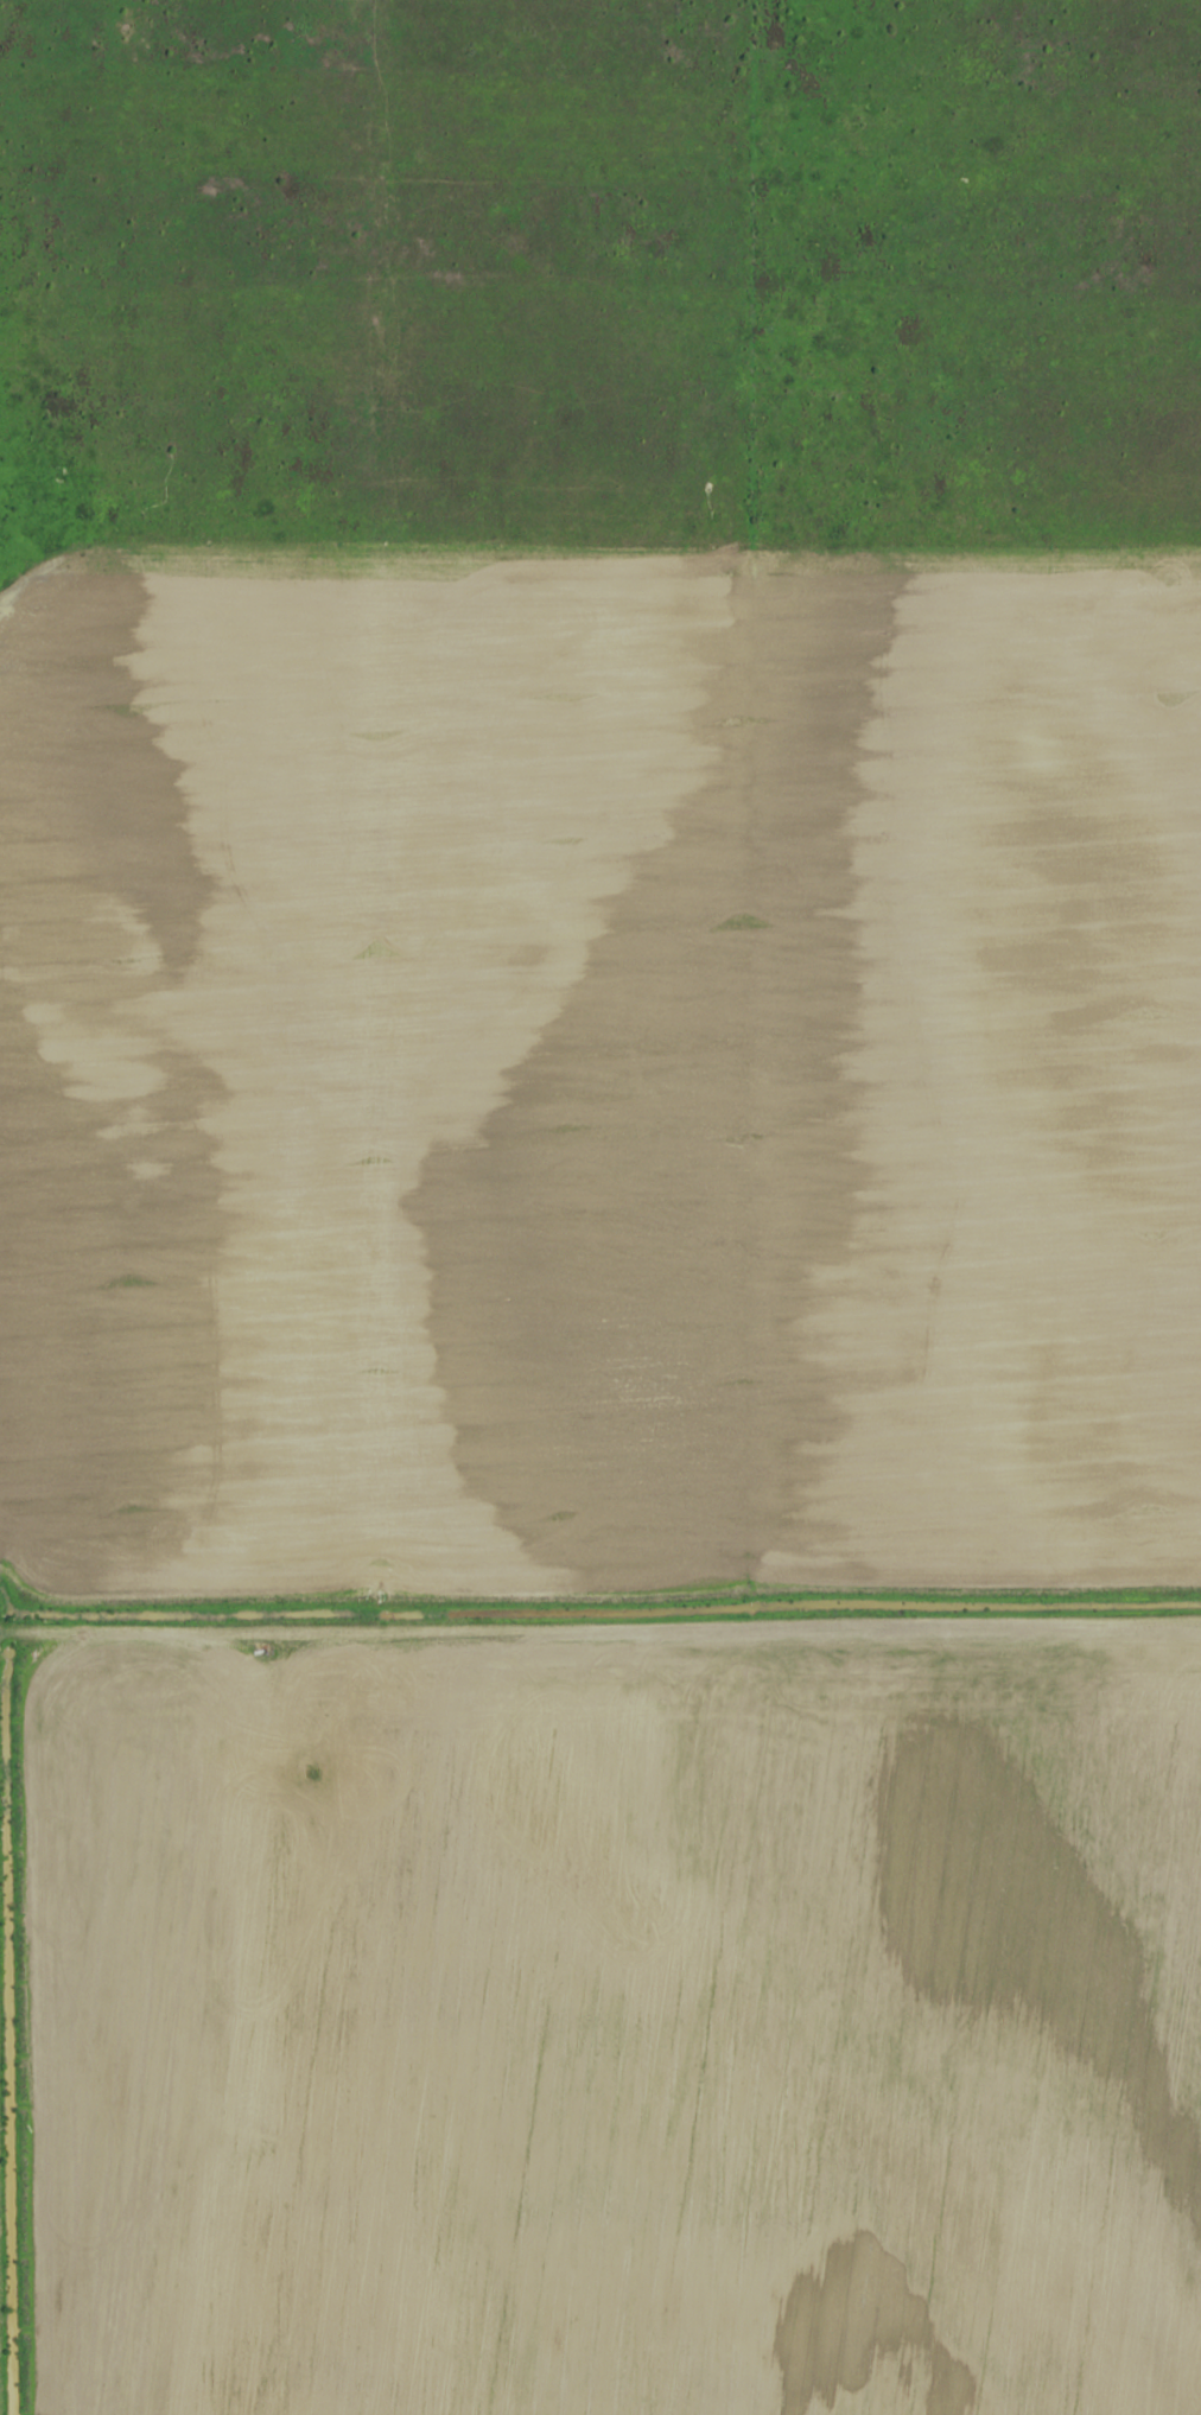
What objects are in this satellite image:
road: (600, 1653)

